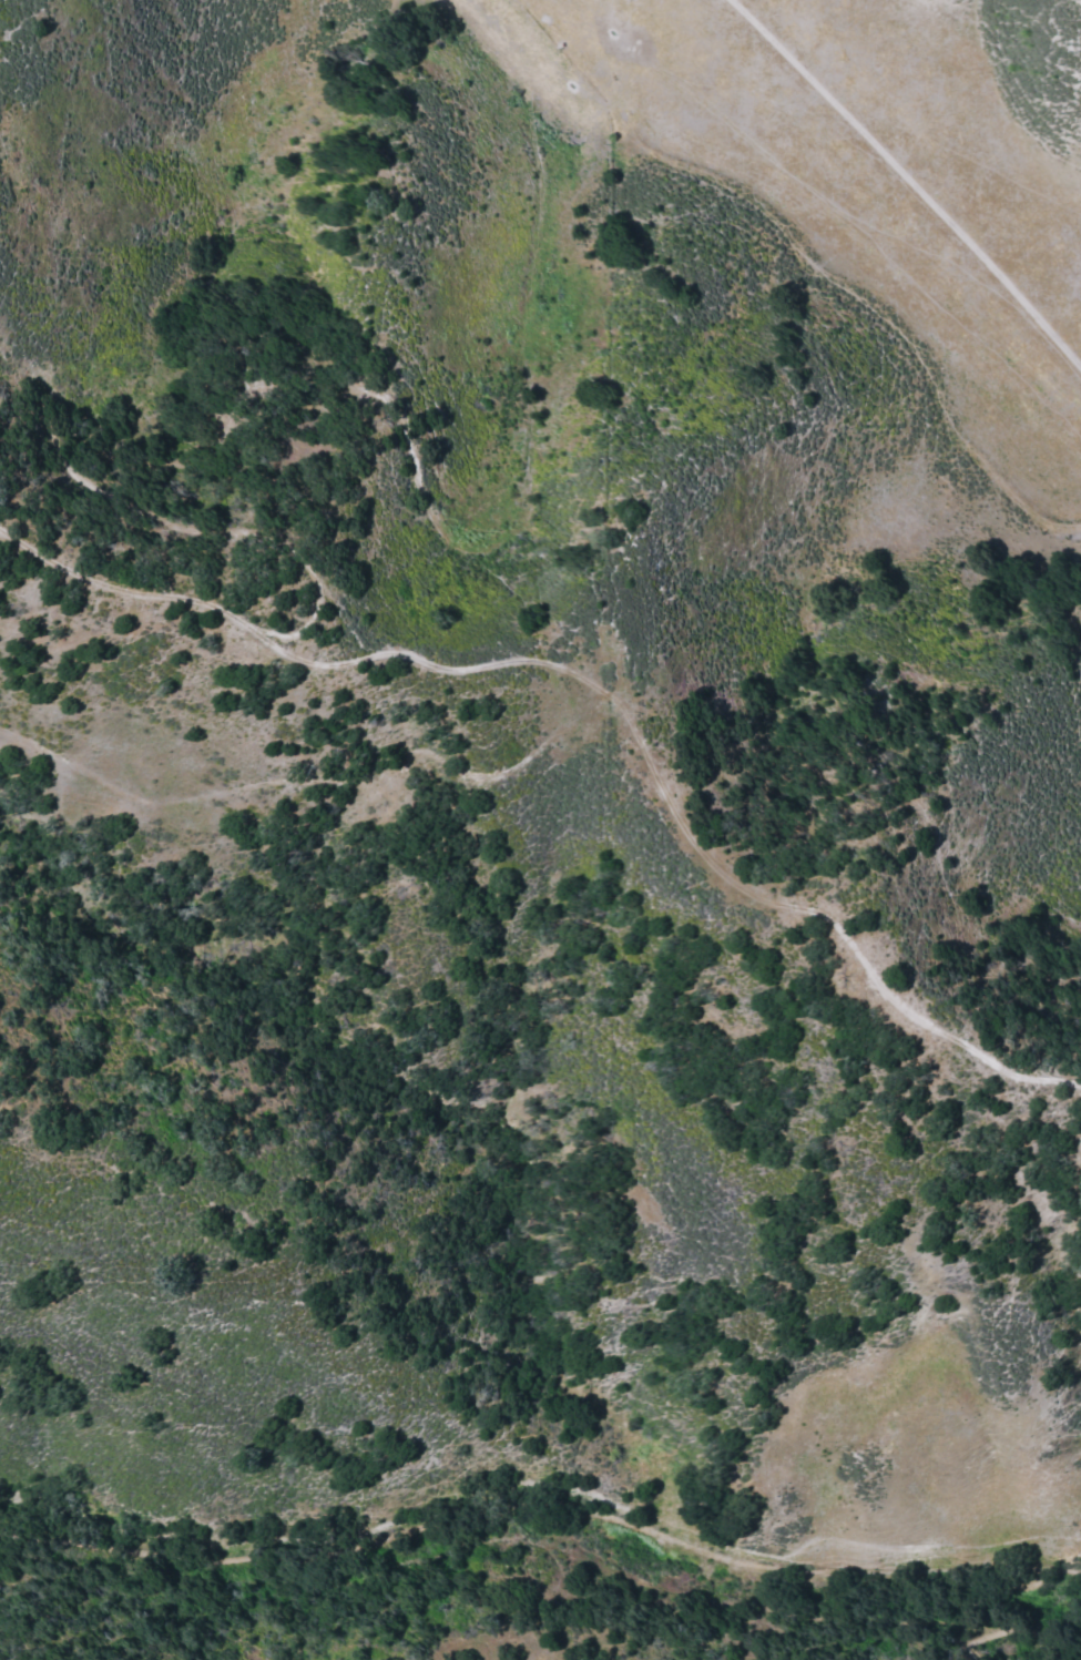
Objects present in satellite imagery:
road: (909, 184)
road: (182, 448)

